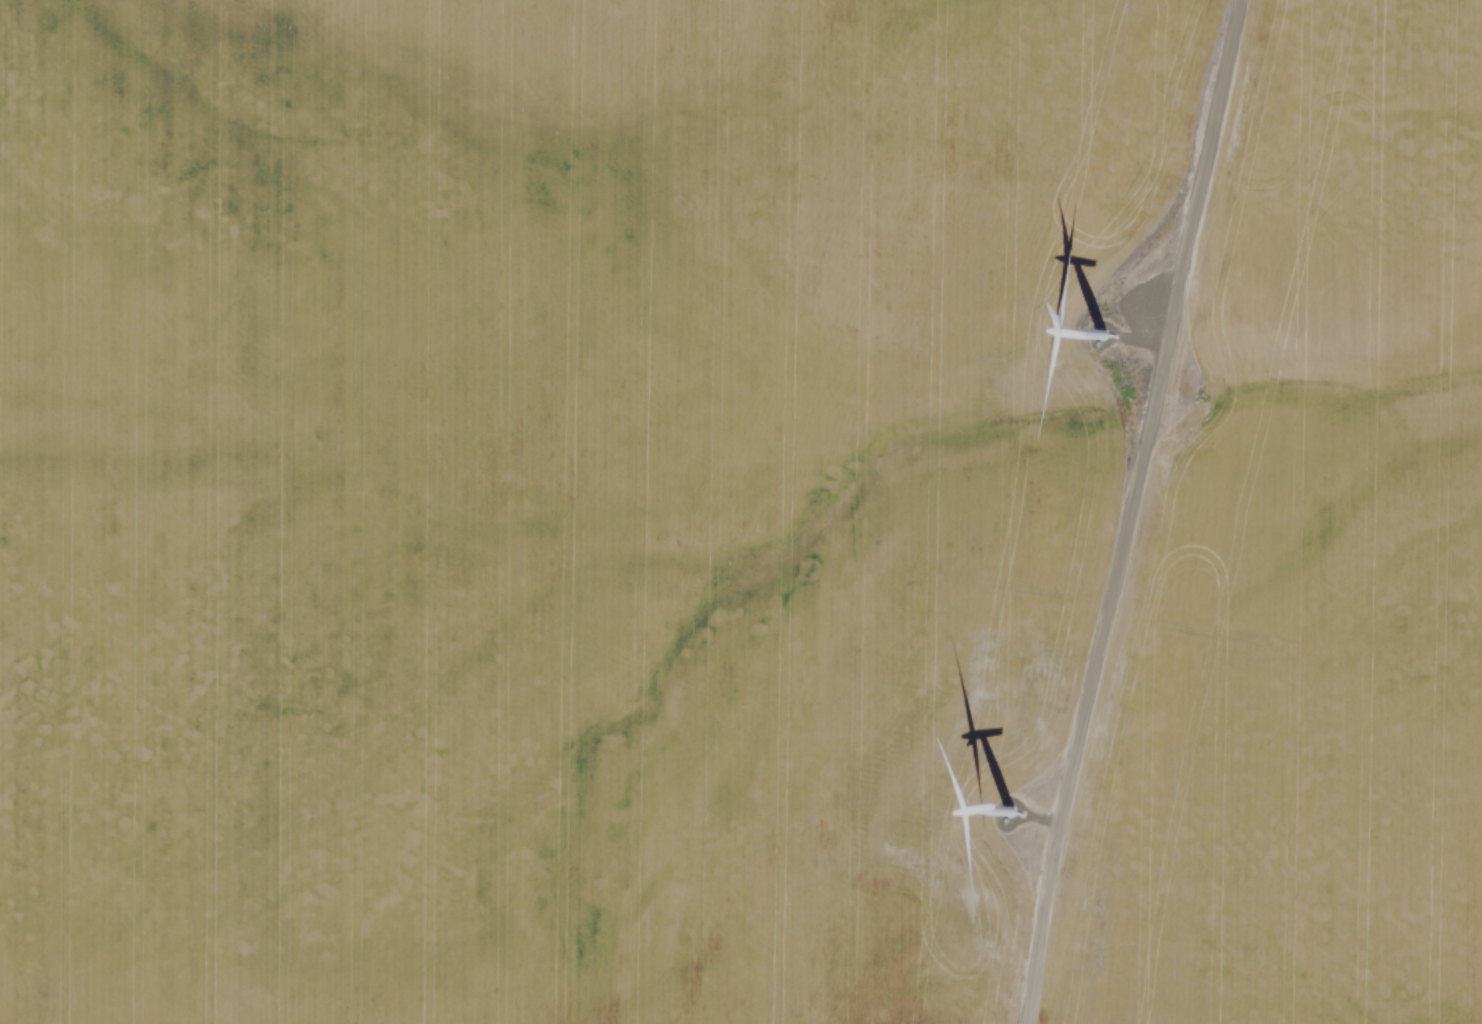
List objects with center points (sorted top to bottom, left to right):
wind turbine: (1092, 340)
road: (1123, 511)
wind turbine: (996, 824)

